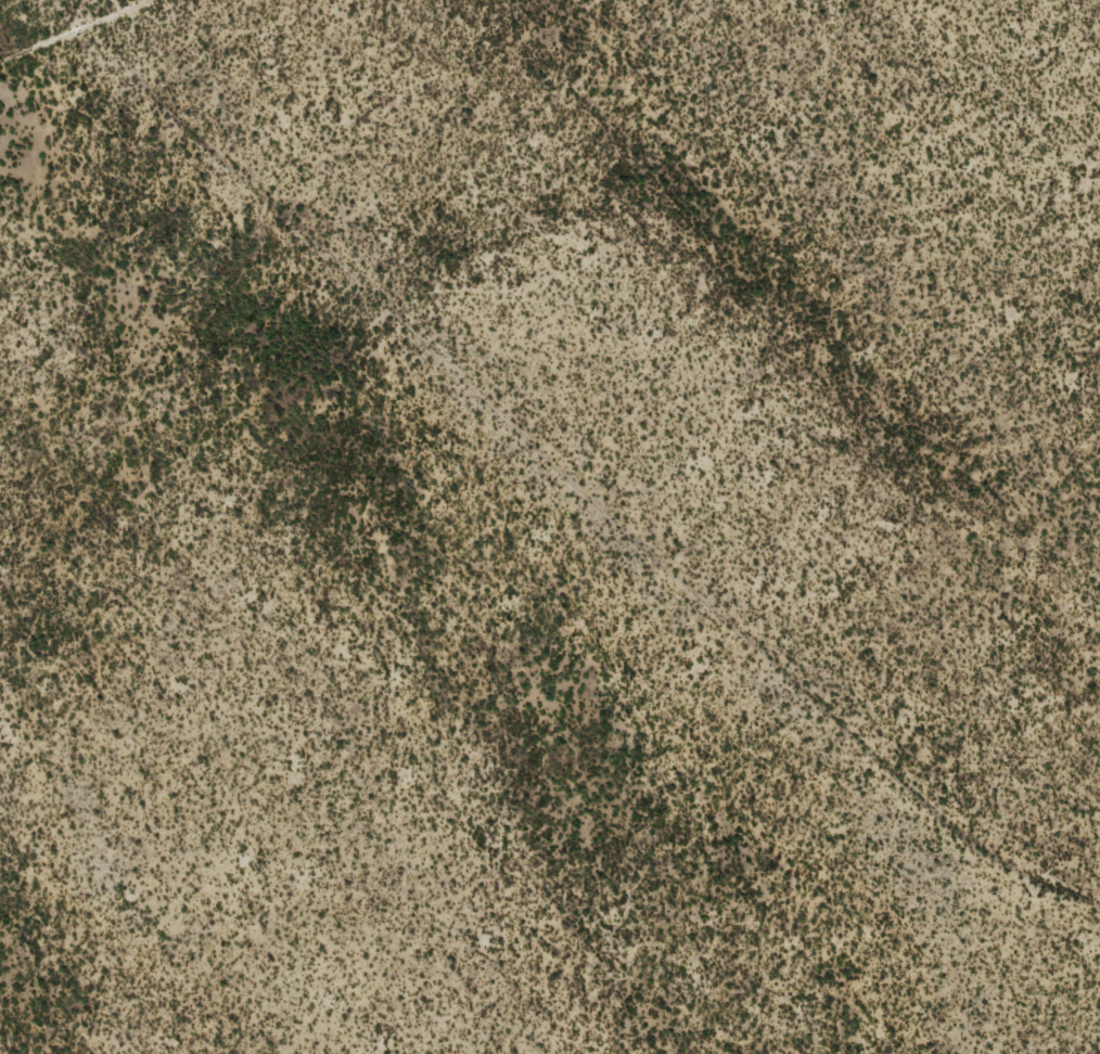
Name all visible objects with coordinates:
road: (68, 28)
road: (581, 484)

